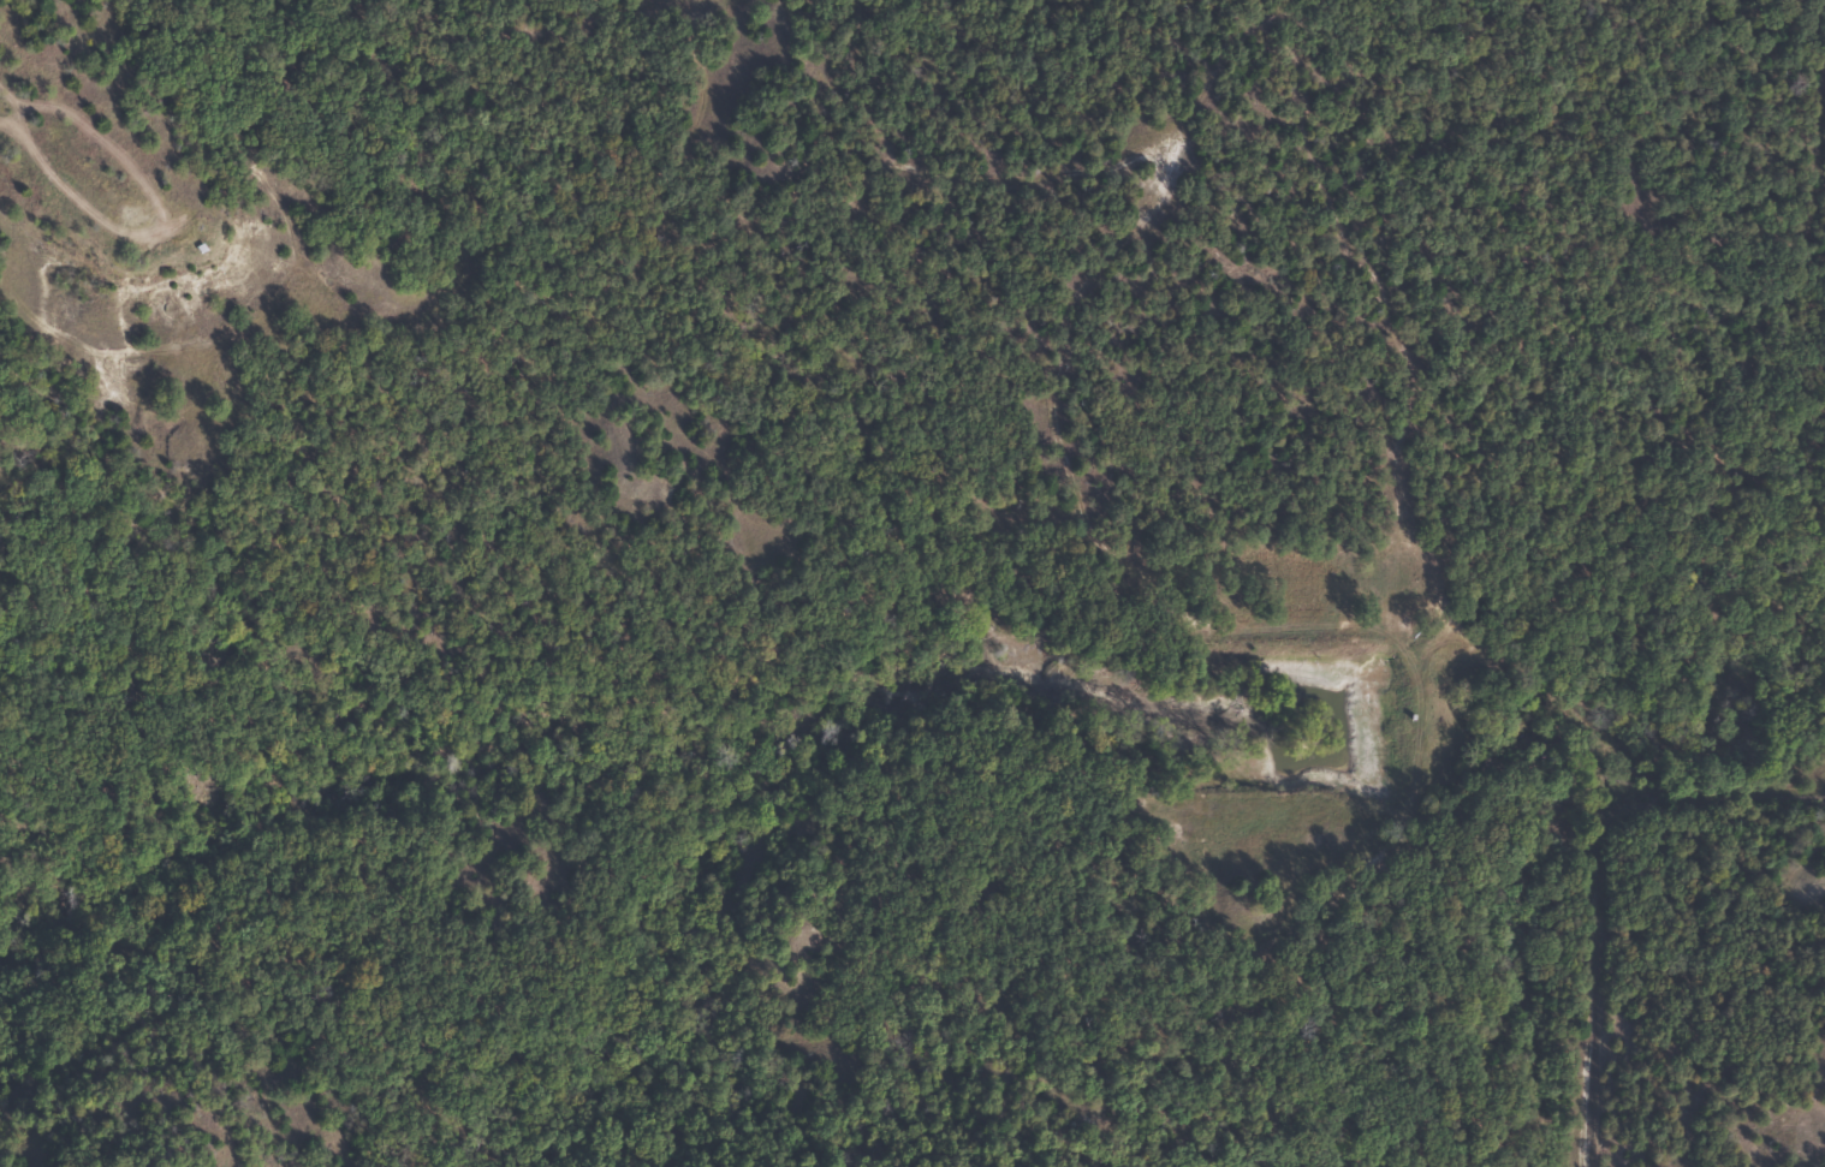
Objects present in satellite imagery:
road: (1605, 923)

